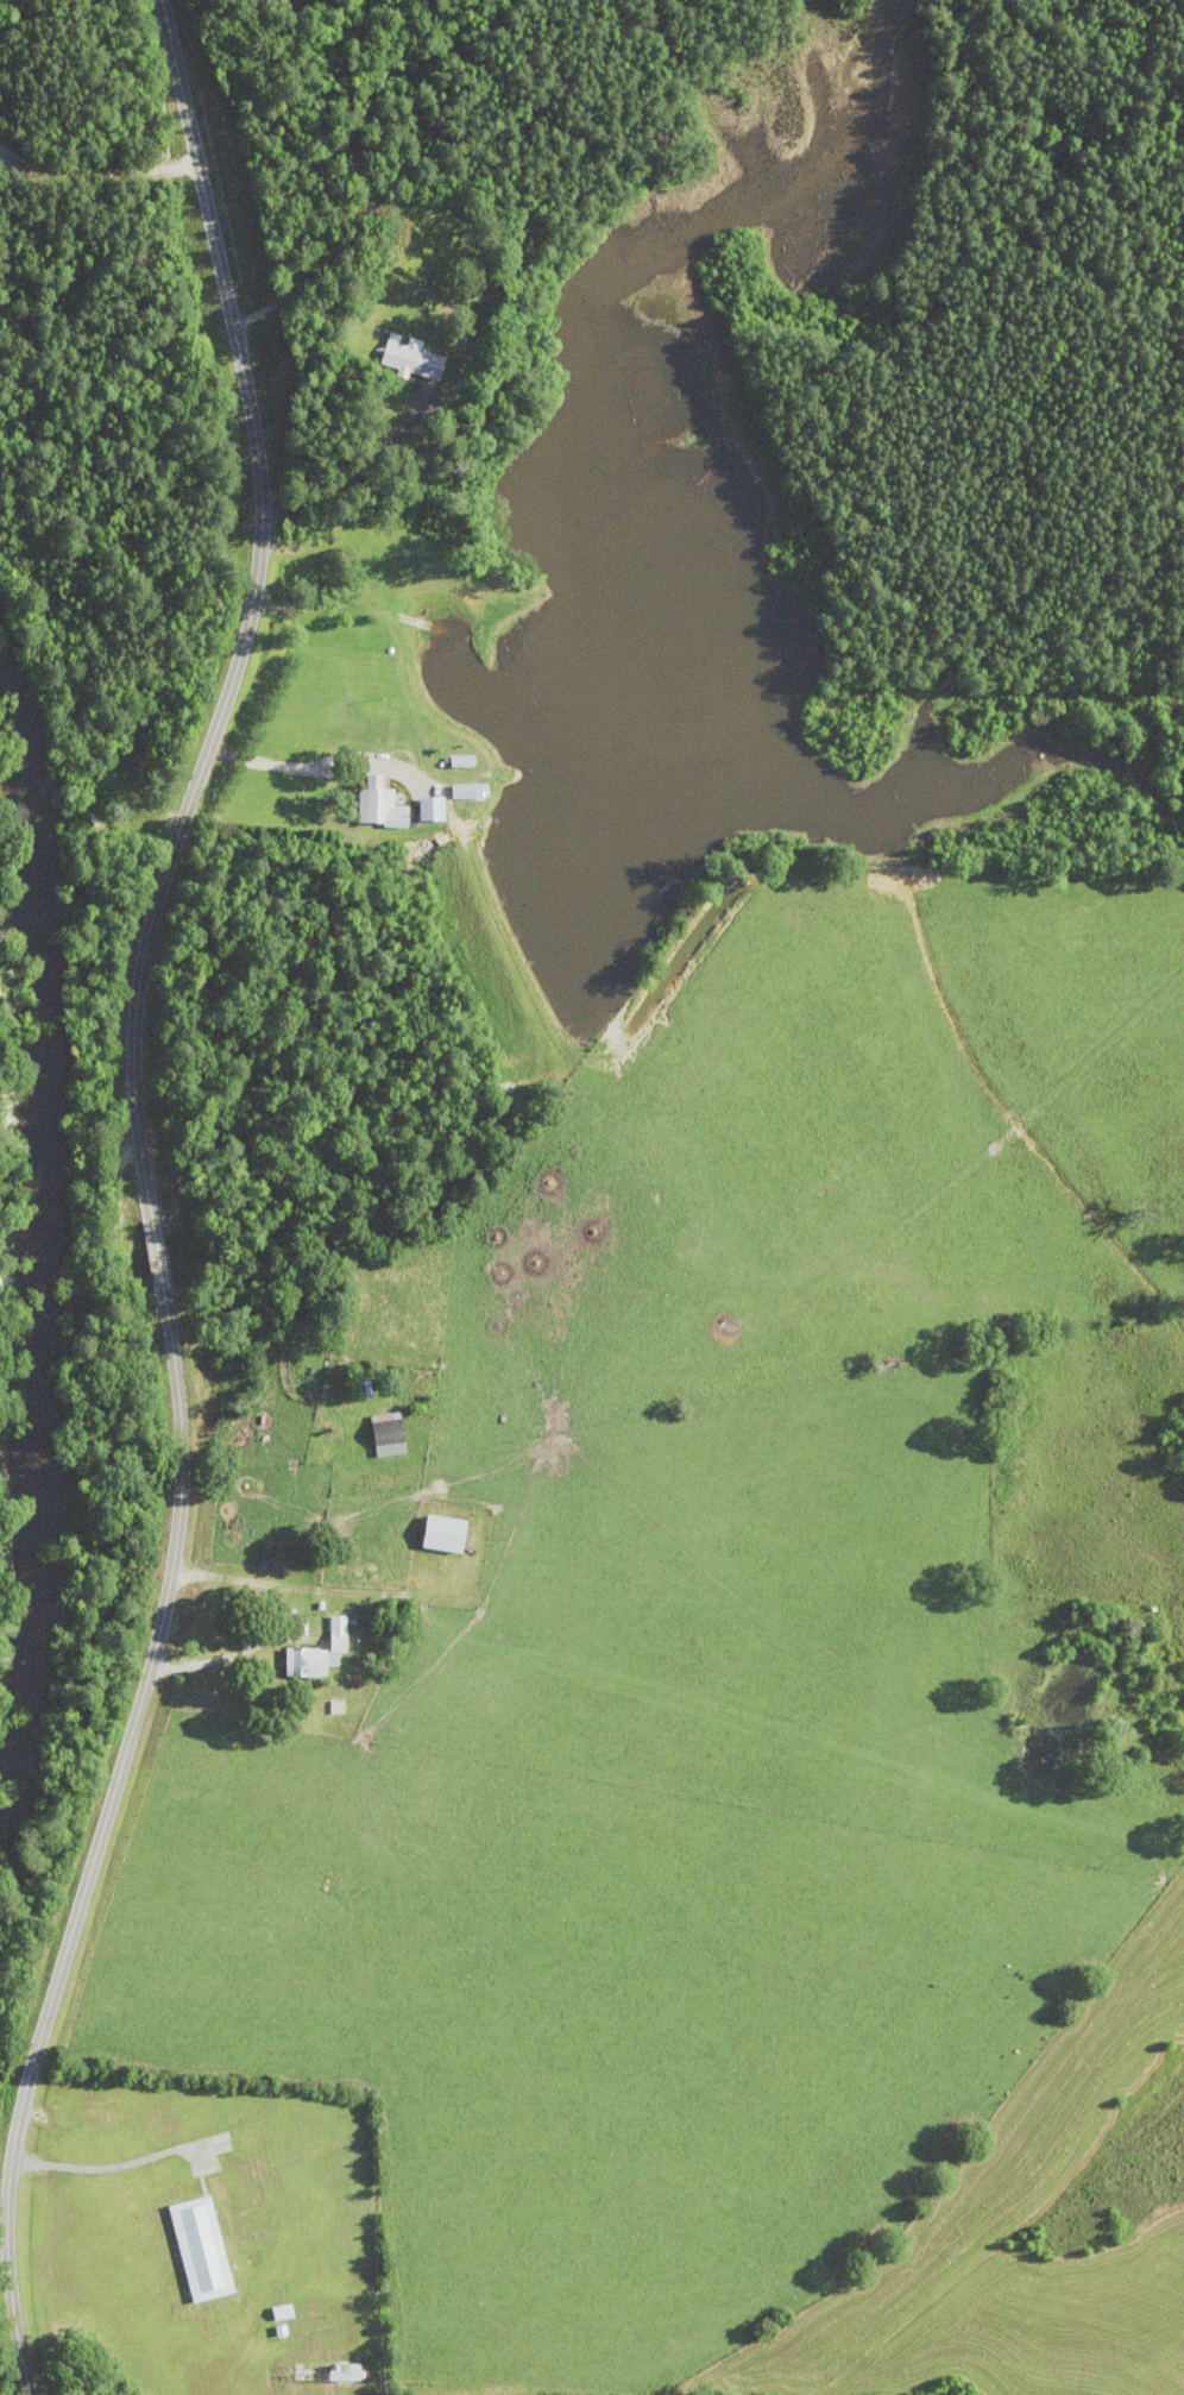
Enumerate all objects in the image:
road: (313, 93)
building: (414, 358)
road: (246, 615)
building: (471, 791)
building: (384, 804)
road: (156, 1253)
river: (29, 1258)
building: (367, 1389)
building: (392, 1434)
building: (320, 1652)
road: (95, 1844)
building: (204, 2249)
building: (341, 2372)

